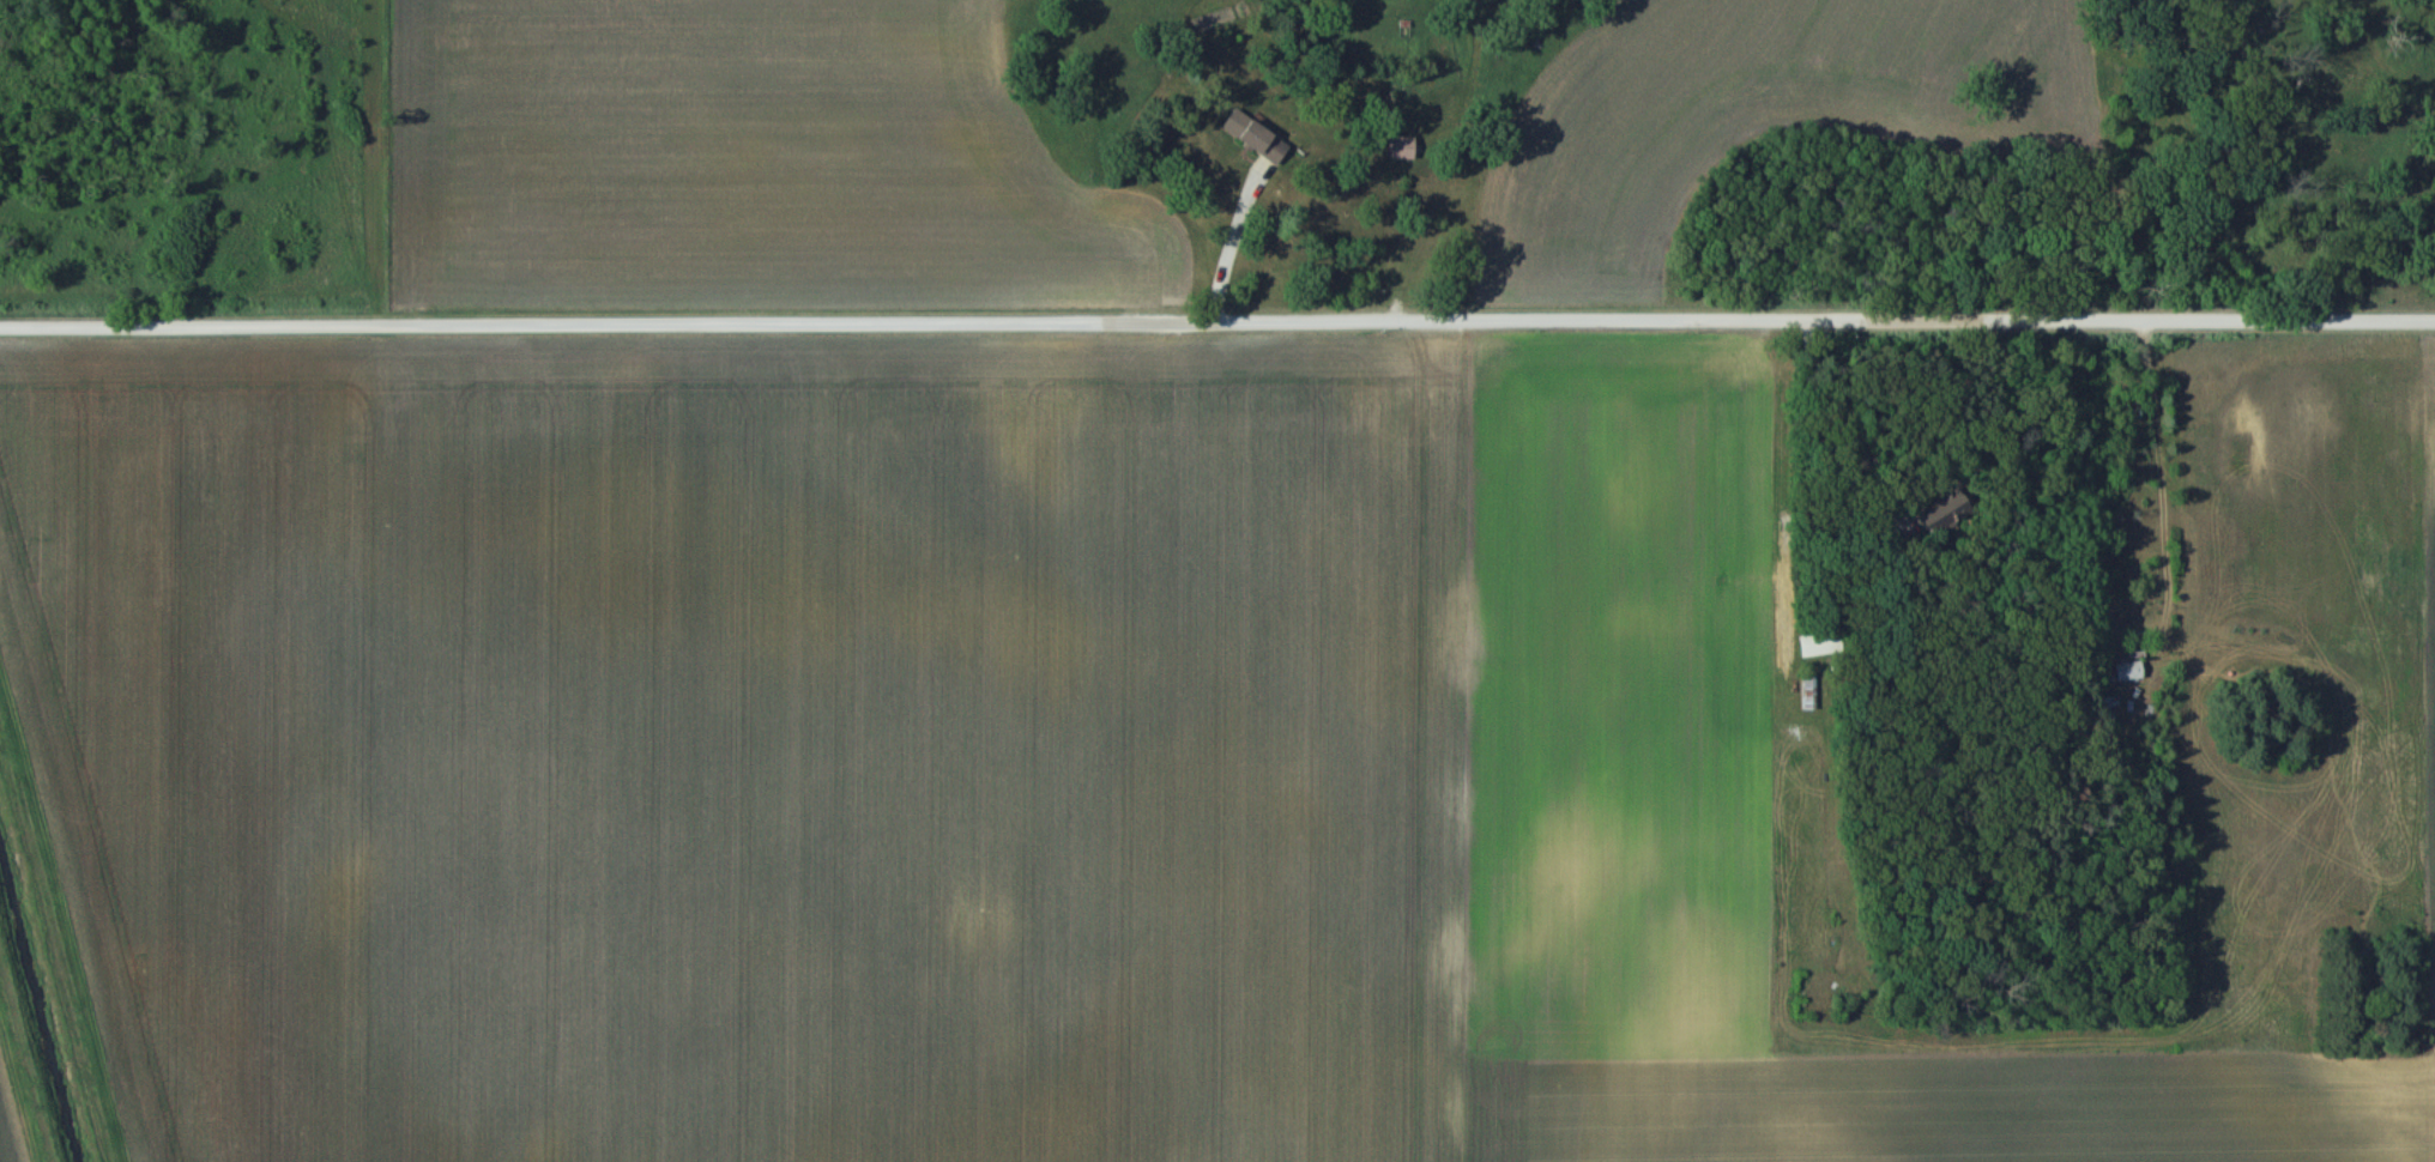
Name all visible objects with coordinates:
building: (1257, 143)
building: (1397, 146)
road: (1443, 190)
road: (1239, 236)
road: (1216, 317)
road: (1784, 468)
road: (2170, 516)
building: (1819, 642)
building: (2126, 670)
building: (1809, 690)

